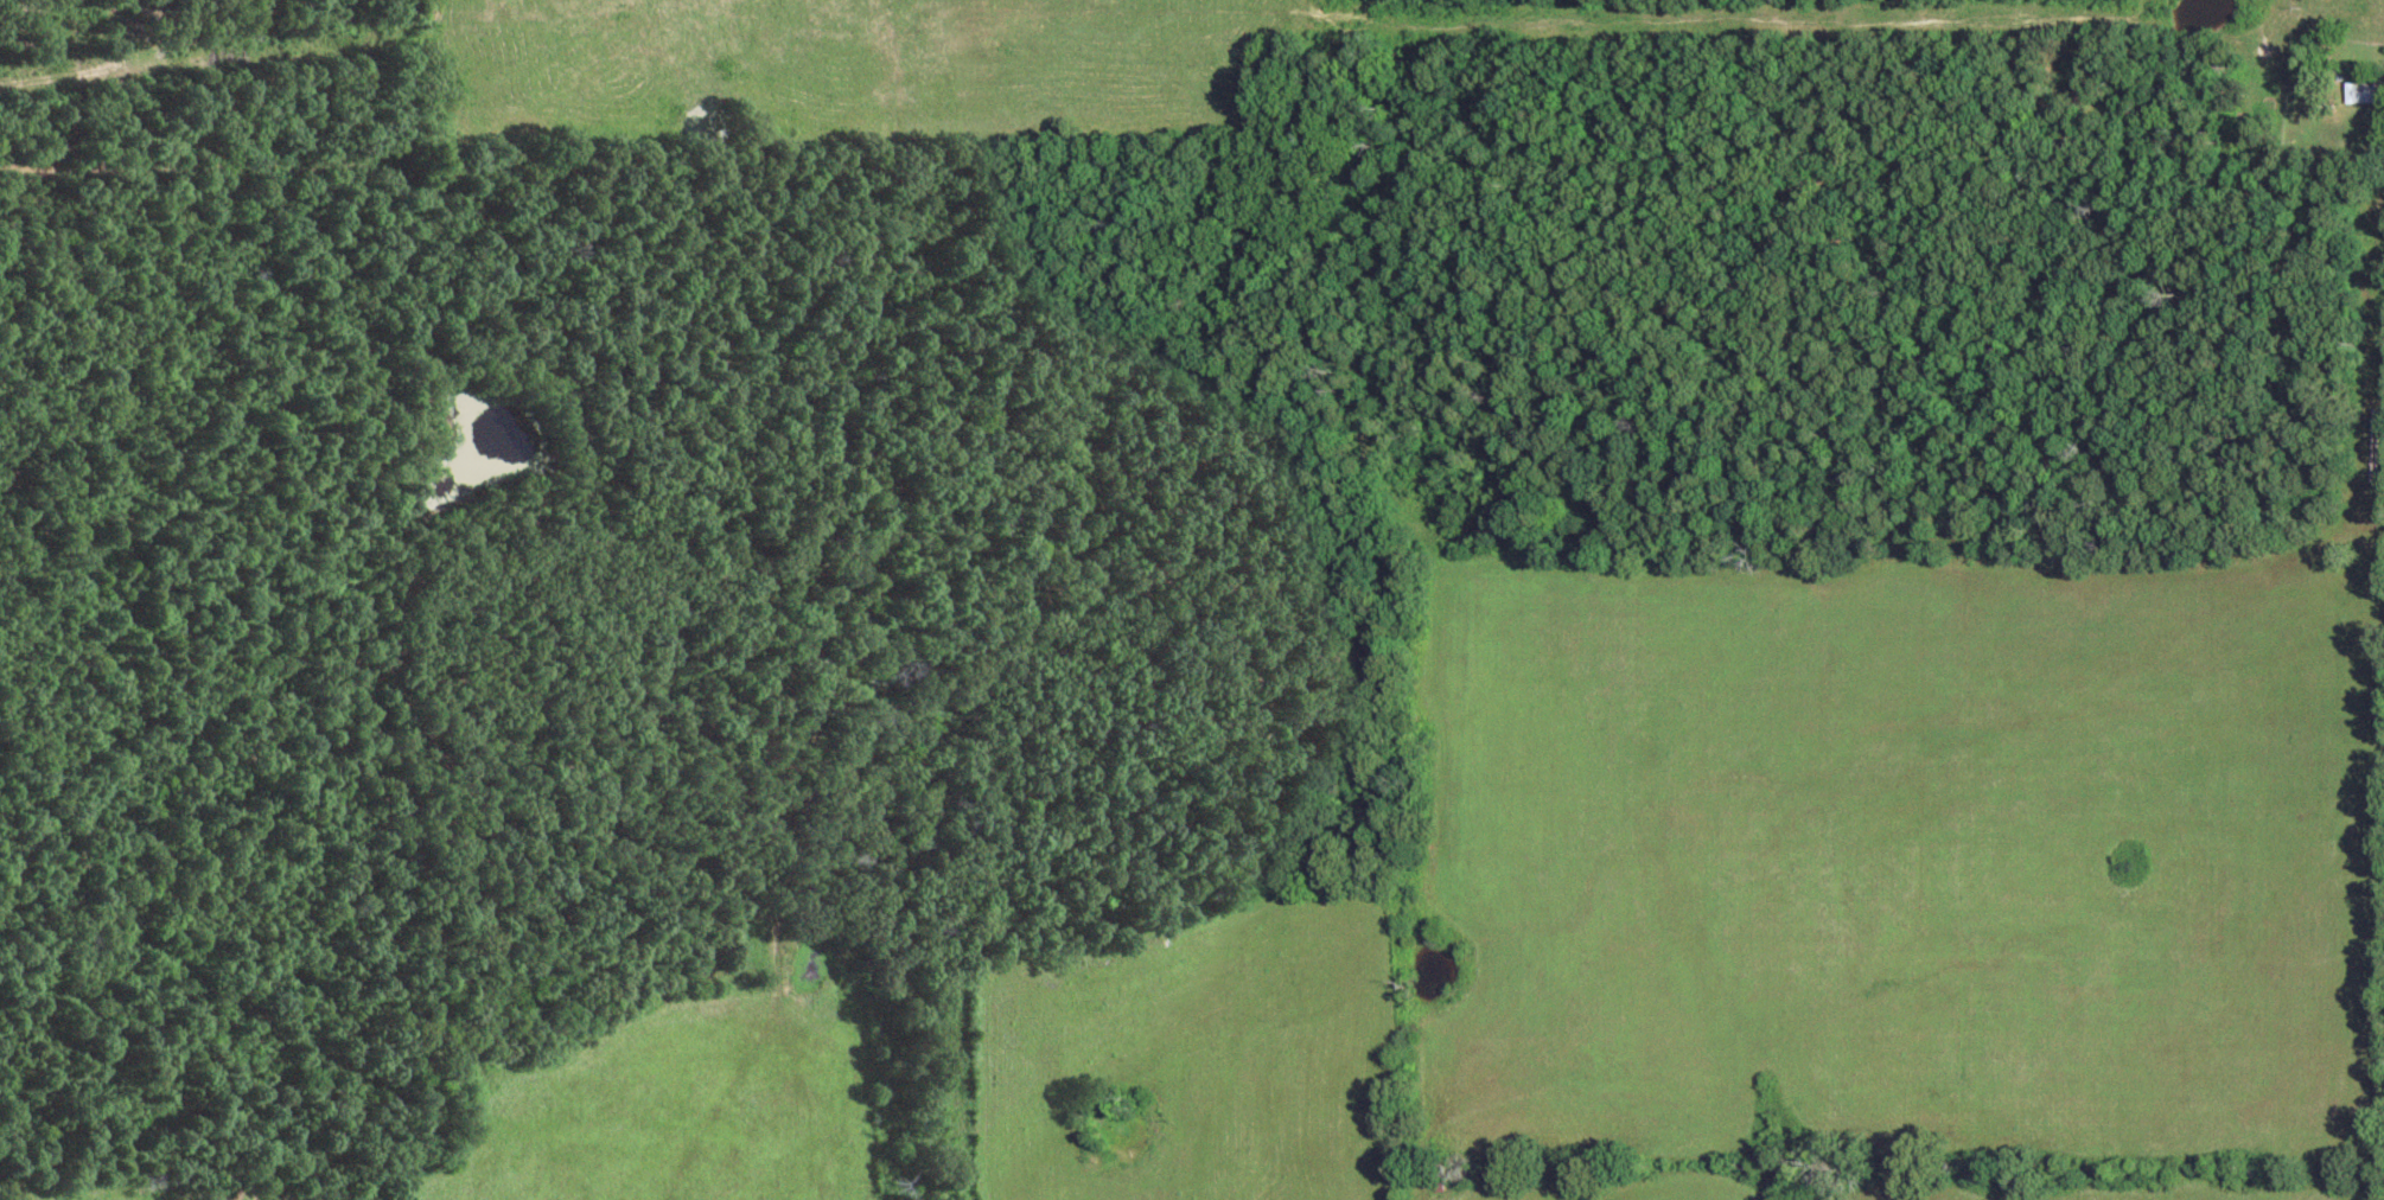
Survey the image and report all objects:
building: (2359, 95)
road: (2382, 1142)

